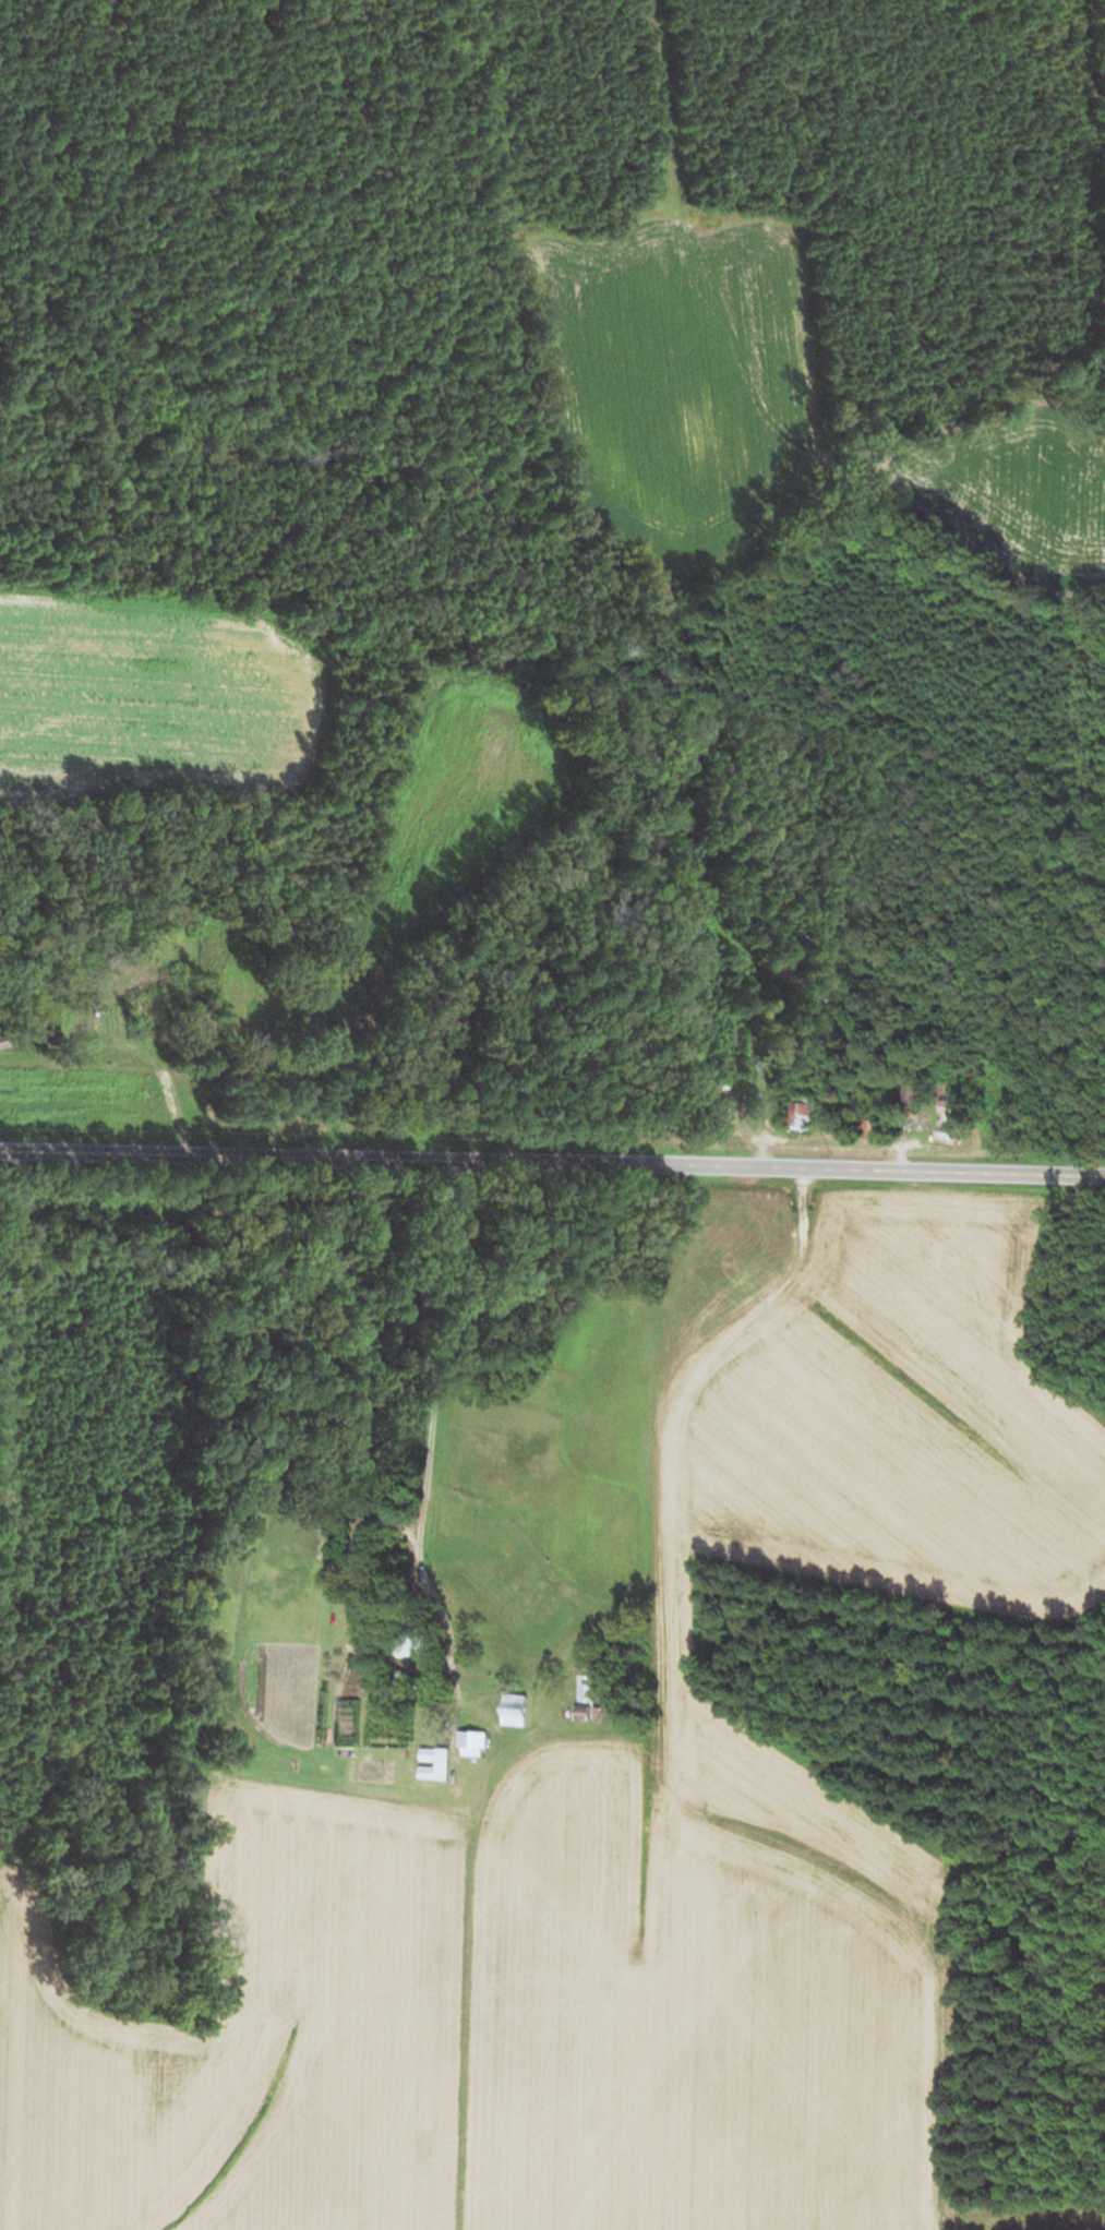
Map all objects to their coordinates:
building: (794, 939)
building: (779, 970)
building: (821, 998)
building: (143, 1011)
building: (730, 1052)
building: (945, 1055)
building: (909, 1090)
building: (716, 1114)
building: (798, 1117)
building: (946, 1126)
building: (870, 1132)
road: (552, 1166)
road: (418, 1383)
building: (359, 1556)
building: (584, 1699)
building: (512, 1711)
building: (347, 1722)
building: (470, 1745)
building: (432, 1764)

